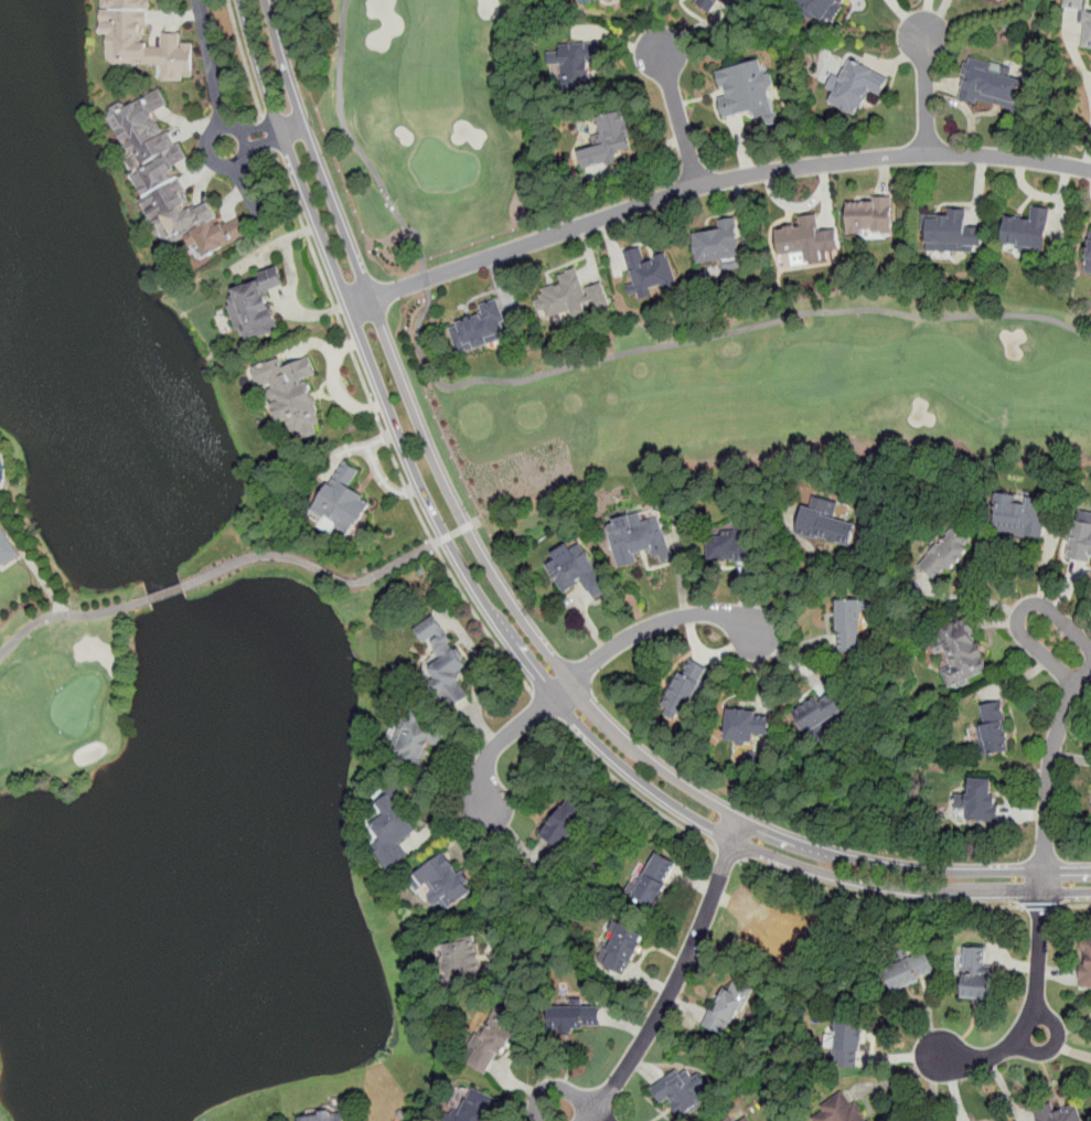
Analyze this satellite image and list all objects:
building: (998, 1)
building: (591, 3)
building: (709, 3)
building: (1073, 4)
building: (824, 9)
building: (1085, 32)
building: (142, 40)
road: (245, 58)
building: (577, 63)
road: (213, 73)
building: (991, 85)
building: (855, 86)
building: (747, 90)
road: (926, 92)
road: (678, 116)
road: (256, 128)
road: (268, 134)
road: (354, 142)
building: (608, 142)
road: (261, 145)
road: (1088, 156)
building: (169, 180)
road: (246, 181)
road: (717, 181)
building: (868, 217)
building: (1027, 228)
building: (944, 231)
building: (795, 239)
building: (718, 244)
building: (1088, 255)
building: (651, 275)
road: (426, 279)
building: (567, 298)
building: (252, 306)
building: (481, 328)
road: (714, 337)
building: (291, 396)
road: (383, 431)
building: (343, 500)
building: (1020, 514)
building: (825, 522)
building: (638, 537)
building: (1080, 542)
building: (730, 544)
building: (6, 548)
park: (317, 553)
building: (948, 553)
road: (322, 570)
building: (577, 573)
road: (165, 591)
road: (67, 615)
road: (1019, 616)
road: (513, 619)
road: (653, 623)
building: (849, 627)
building: (960, 651)
building: (446, 669)
building: (685, 687)
road: (542, 705)
building: (820, 714)
building: (747, 726)
building: (993, 730)
building: (418, 737)
road: (503, 739)
road: (1049, 771)
road: (629, 786)
building: (980, 799)
building: (391, 824)
building: (564, 824)
road: (729, 853)
road: (507, 874)
building: (655, 879)
building: (443, 883)
road: (879, 900)
road: (1074, 905)
road: (1039, 906)
building: (777, 930)
building: (623, 949)
building: (461, 960)
building: (1085, 960)
building: (908, 972)
building: (976, 974)
road: (674, 983)
building: (728, 1007)
road: (1036, 1013)
building: (578, 1016)
building: (847, 1043)
building: (491, 1044)
road: (553, 1087)
road: (934, 1087)
building: (682, 1095)
building: (479, 1106)
building: (841, 1111)
building: (1056, 1113)
building: (322, 1117)
road: (598, 1117)
building: (734, 1119)
building: (746, 1119)

